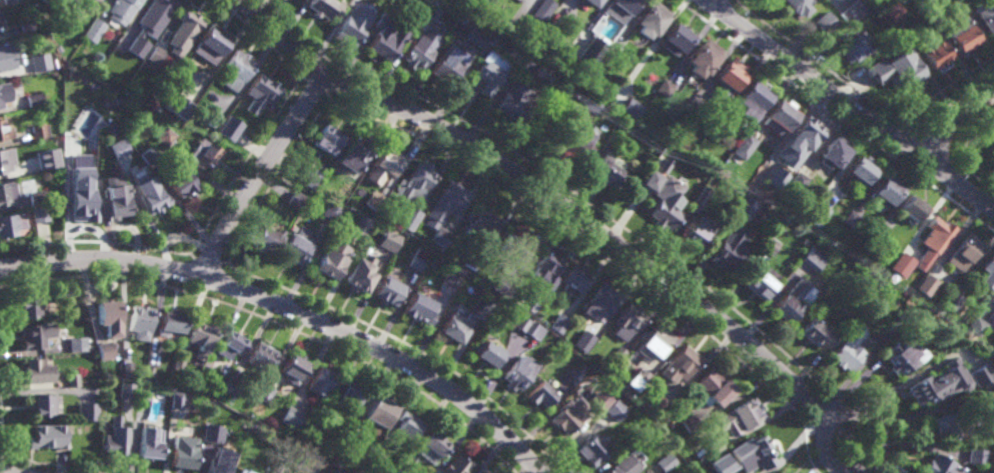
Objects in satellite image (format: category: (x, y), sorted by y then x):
building: (8, 1)
building: (44, 1)
building: (97, 1)
building: (920, 1)
road: (684, 2)
building: (590, 3)
building: (795, 7)
building: (322, 8)
road: (719, 8)
building: (619, 9)
building: (122, 10)
building: (160, 10)
building: (71, 11)
building: (540, 12)
building: (853, 12)
building: (894, 12)
road: (710, 19)
building: (983, 19)
building: (650, 21)
building: (1, 23)
building: (825, 23)
building: (352, 25)
building: (26, 27)
building: (133, 30)
building: (93, 31)
building: (183, 34)
building: (958, 34)
road: (257, 37)
building: (489, 39)
building: (674, 40)
building: (381, 41)
building: (420, 41)
building: (210, 45)
building: (853, 48)
building: (889, 48)
building: (613, 51)
building: (589, 53)
building: (932, 53)
building: (453, 55)
building: (155, 56)
building: (6, 57)
building: (702, 59)
building: (39, 62)
road: (309, 64)
road: (819, 64)
building: (236, 68)
building: (904, 69)
building: (485, 75)
building: (541, 75)
building: (728, 79)
road: (334, 84)
road: (311, 85)
building: (665, 87)
road: (943, 89)
building: (261, 90)
building: (3, 94)
building: (756, 96)
building: (34, 100)
building: (589, 102)
building: (513, 103)
building: (158, 104)
building: (694, 104)
road: (850, 106)
building: (0, 107)
building: (177, 107)
building: (605, 107)
building: (630, 107)
building: (780, 115)
building: (210, 116)
road: (835, 117)
road: (887, 119)
road: (952, 123)
building: (225, 127)
building: (5, 128)
building: (719, 128)
road: (879, 129)
building: (40, 130)
building: (164, 135)
building: (328, 138)
road: (870, 139)
building: (579, 142)
road: (925, 142)
road: (967, 142)
building: (610, 144)
building: (745, 145)
building: (119, 147)
building: (992, 148)
building: (833, 150)
building: (354, 151)
building: (148, 153)
building: (203, 153)
building: (70, 155)
building: (6, 158)
building: (658, 161)
building: (44, 163)
building: (384, 164)
road: (955, 164)
road: (246, 165)
building: (861, 168)
building: (607, 170)
road: (259, 174)
road: (962, 174)
building: (309, 176)
building: (180, 179)
road: (274, 180)
road: (979, 181)
building: (797, 182)
road: (954, 183)
building: (885, 190)
building: (7, 192)
building: (148, 192)
building: (411, 192)
road: (545, 192)
road: (946, 194)
building: (37, 196)
building: (664, 198)
building: (295, 199)
building: (374, 199)
building: (114, 200)
building: (700, 200)
building: (79, 203)
building: (444, 203)
building: (746, 207)
building: (912, 207)
building: (331, 211)
building: (40, 213)
building: (817, 213)
road: (607, 218)
building: (850, 219)
building: (11, 223)
building: (361, 224)
building: (479, 224)
building: (699, 232)
building: (936, 233)
building: (266, 236)
building: (438, 236)
building: (388, 239)
road: (95, 240)
building: (875, 240)
building: (769, 244)
building: (296, 245)
building: (514, 247)
building: (731, 249)
building: (964, 251)
road: (597, 253)
building: (331, 258)
building: (813, 258)
building: (416, 259)
road: (209, 260)
building: (471, 260)
building: (901, 263)
building: (543, 267)
building: (988, 271)
road: (186, 273)
building: (360, 273)
building: (574, 278)
building: (448, 280)
building: (522, 282)
building: (761, 282)
building: (926, 284)
road: (222, 285)
building: (501, 286)
building: (388, 290)
building: (539, 297)
building: (953, 299)
building: (601, 300)
building: (794, 300)
building: (31, 303)
building: (417, 308)
building: (479, 308)
road: (291, 309)
building: (918, 313)
building: (905, 314)
building: (107, 317)
building: (565, 318)
building: (139, 320)
building: (628, 321)
building: (170, 323)
building: (558, 324)
road: (274, 325)
building: (976, 325)
building: (452, 327)
building: (529, 328)
building: (817, 333)
building: (35, 334)
building: (201, 335)
building: (592, 335)
building: (583, 341)
building: (657, 341)
building: (77, 344)
building: (231, 344)
road: (407, 347)
building: (849, 349)
building: (104, 351)
building: (486, 353)
building: (619, 353)
building: (262, 356)
building: (905, 356)
building: (154, 359)
building: (179, 363)
building: (681, 364)
building: (293, 368)
building: (127, 370)
building: (38, 372)
building: (204, 372)
building: (519, 372)
building: (572, 375)
building: (982, 376)
building: (73, 379)
building: (638, 379)
building: (322, 381)
building: (938, 384)
building: (231, 385)
building: (714, 387)
building: (126, 390)
building: (143, 392)
building: (266, 392)
building: (540, 394)
building: (350, 395)
building: (179, 400)
building: (640, 401)
building: (987, 403)
building: (656, 404)
building: (43, 406)
building: (599, 409)
building: (616, 410)
building: (87, 411)
building: (381, 411)
building: (747, 413)
building: (291, 417)
building: (565, 420)
building: (322, 423)
building: (690, 423)
building: (406, 426)
building: (950, 427)
building: (211, 433)
building: (48, 437)
building: (116, 438)
building: (629, 441)
building: (349, 443)
building: (432, 443)
building: (149, 444)
building: (715, 447)
building: (592, 450)
building: (754, 451)
road: (824, 452)
building: (183, 453)
road: (1, 455)
building: (377, 455)
building: (676, 456)
building: (977, 456)
building: (308, 462)
road: (40, 463)
building: (666, 463)
building: (722, 464)
building: (455, 465)
building: (624, 466)
building: (941, 466)
building: (216, 468)
building: (277, 469)
building: (400, 469)
road: (6, 471)
building: (244, 471)
building: (338, 472)
building: (780, 472)

